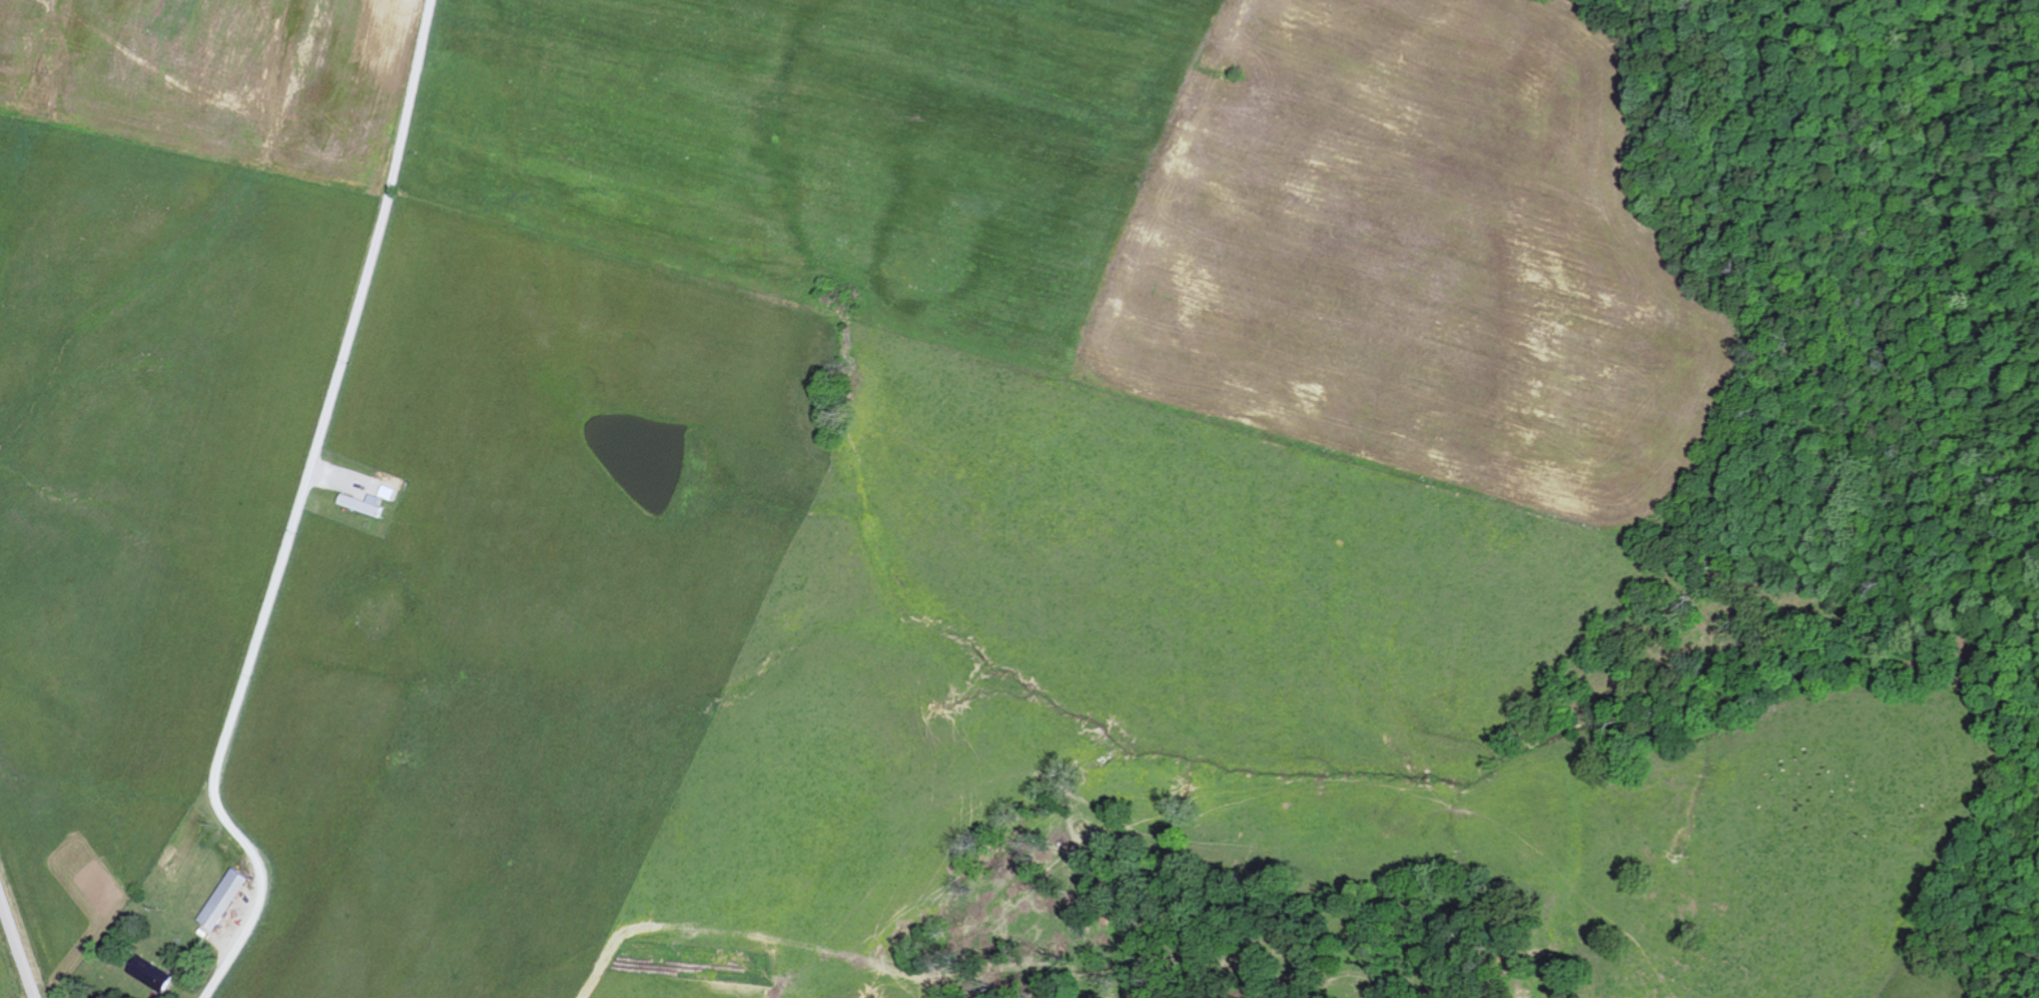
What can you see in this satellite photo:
building: (387, 493)
building: (364, 504)
road: (298, 513)
building: (226, 899)
road: (17, 948)
building: (154, 975)

